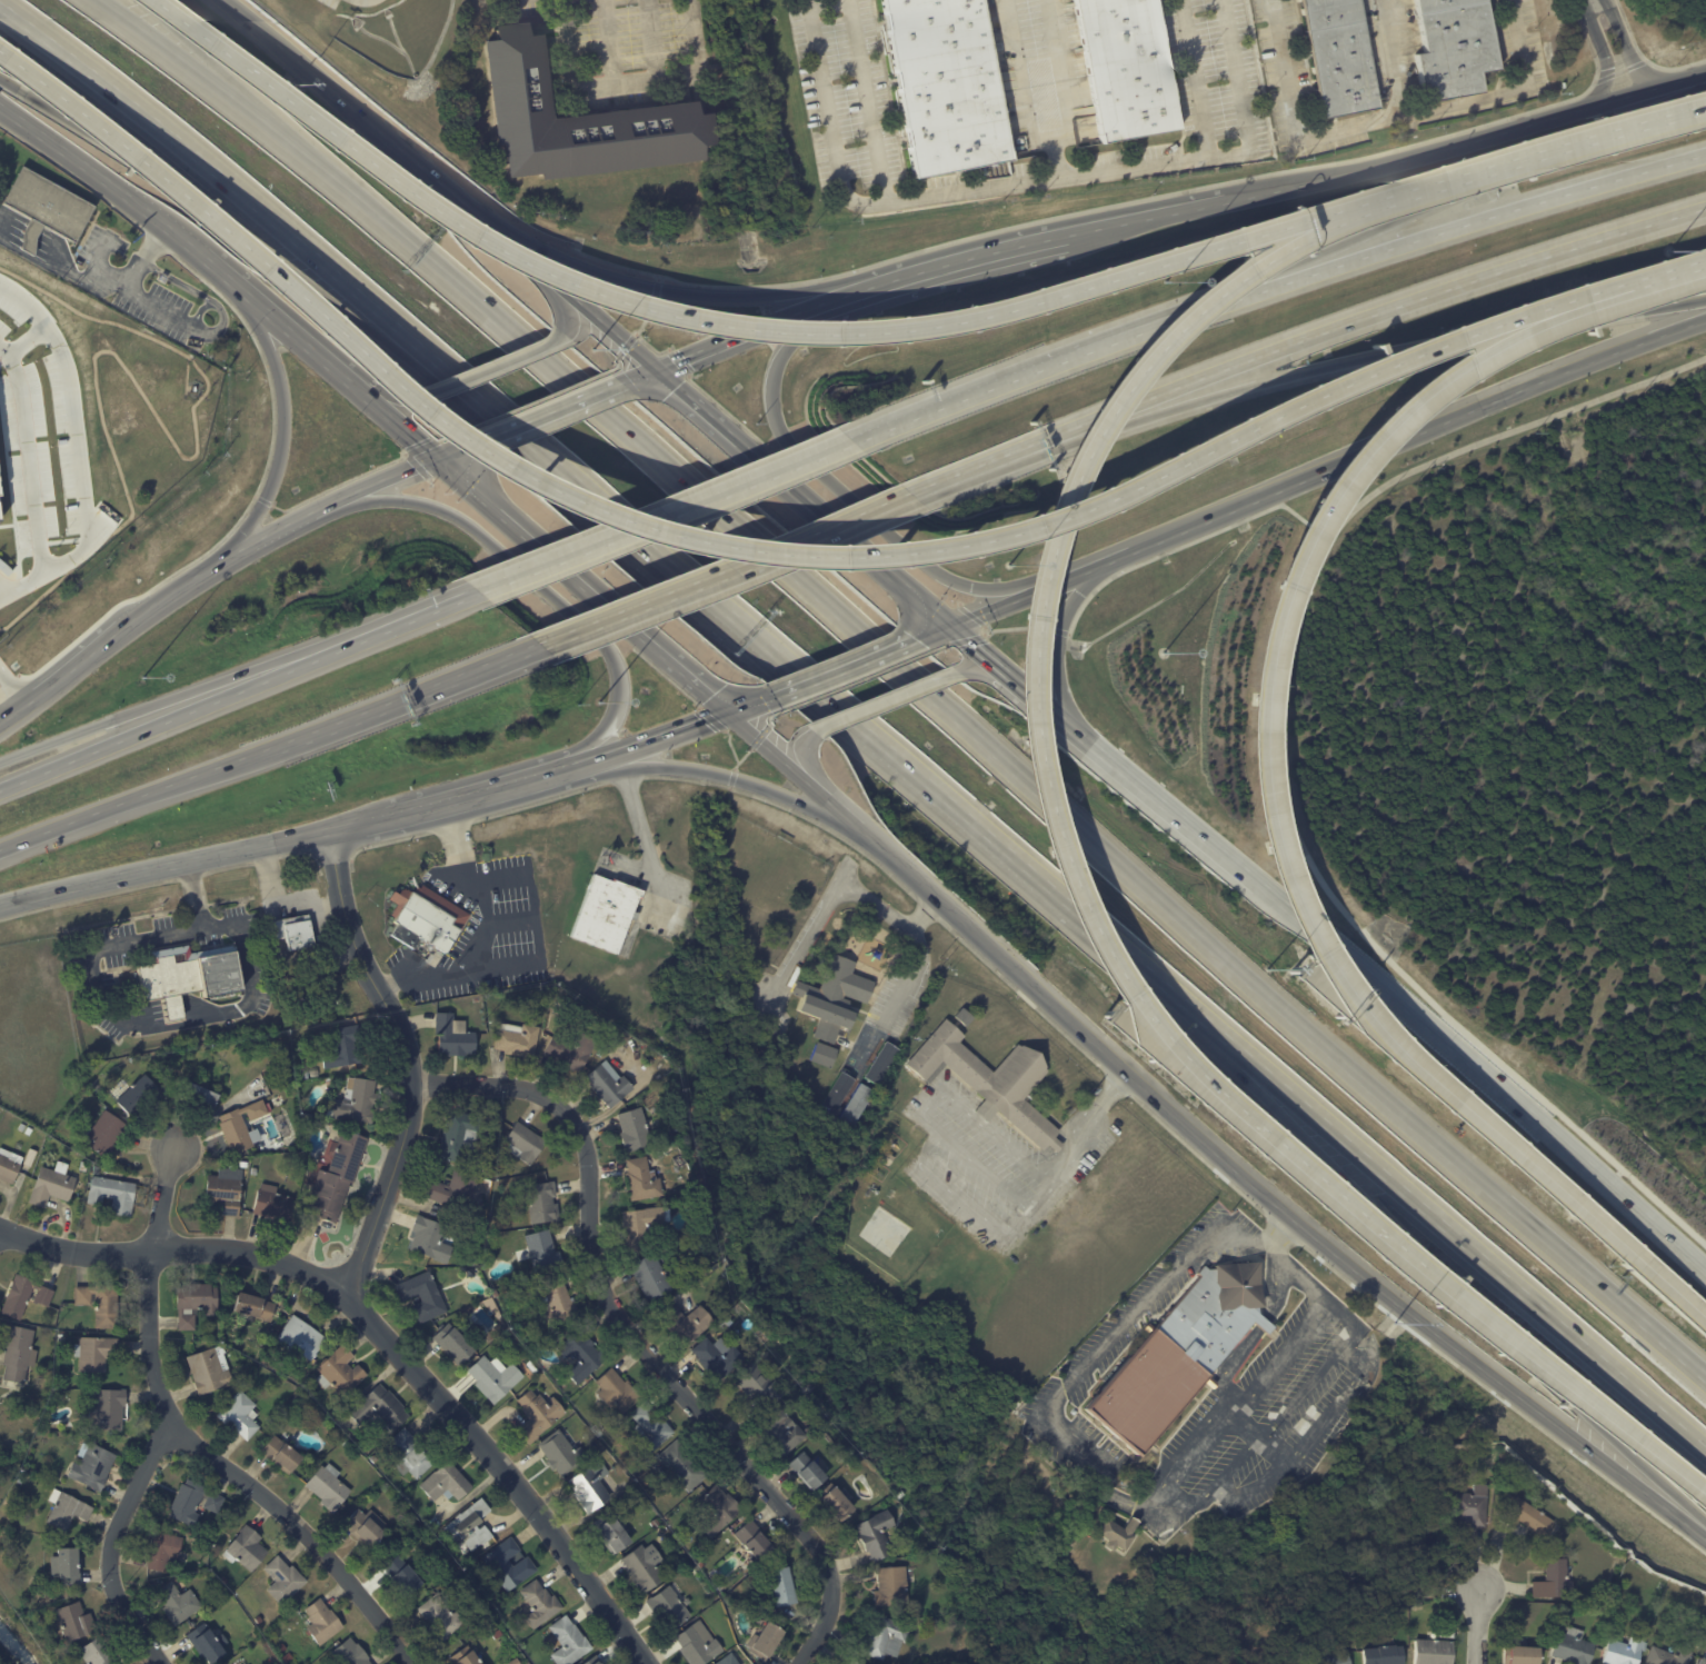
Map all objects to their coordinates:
road: (822, 3)
road: (249, 20)
road: (654, 37)
road: (1610, 48)
building: (1455, 49)
road: (2, 57)
road: (204, 57)
road: (1394, 57)
building: (1341, 58)
road: (174, 60)
road: (567, 60)
building: (1126, 68)
road: (649, 74)
road: (1022, 77)
building: (946, 86)
road: (1064, 90)
road: (1241, 94)
road: (867, 100)
building: (580, 117)
road: (1388, 117)
road: (1467, 145)
road: (1574, 147)
road: (417, 162)
road: (103, 179)
road: (1009, 186)
road: (1458, 193)
building: (48, 206)
road: (1146, 215)
road: (215, 221)
road: (1458, 227)
road: (7, 231)
road: (1616, 237)
building: (28, 239)
road: (979, 257)
road: (335, 271)
road: (1645, 282)
road: (127, 285)
road: (858, 291)
road: (689, 293)
road: (30, 296)
road: (149, 309)
road: (568, 309)
road: (273, 318)
road: (498, 320)
road: (610, 326)
road: (757, 329)
road: (26, 339)
road: (724, 341)
road: (1271, 352)
road: (1359, 360)
road: (495, 365)
traffic signals: (660, 367)
road: (1032, 372)
road: (1533, 388)
road: (1368, 389)
road: (382, 395)
road: (709, 410)
road: (546, 412)
road: (390, 418)
road: (429, 419)
road: (282, 424)
road: (453, 449)
road: (28, 457)
traffic signals: (437, 457)
building: (159, 465)
road: (964, 471)
road: (788, 479)
road: (378, 482)
road: (79, 485)
road: (844, 492)
road: (665, 515)
road: (1056, 516)
road: (285, 526)
road: (1154, 539)
road: (540, 546)
road: (864, 548)
road: (1143, 561)
road: (722, 568)
road: (189, 580)
road: (537, 581)
road: (3, 592)
road: (929, 608)
road: (390, 626)
traffic signals: (949, 626)
road: (931, 632)
road: (1059, 637)
road: (986, 656)
road: (74, 667)
road: (844, 667)
road: (686, 674)
road: (990, 675)
road: (2, 681)
road: (1030, 696)
road: (885, 701)
road: (9, 703)
road: (751, 704)
road: (150, 707)
road: (1047, 708)
traffic signals: (729, 713)
road: (9, 718)
road: (151, 725)
road: (645, 741)
road: (269, 748)
road: (1285, 760)
road: (782, 761)
road: (914, 769)
road: (812, 771)
road: (700, 773)
road: (1261, 779)
road: (1143, 788)
road: (476, 795)
road: (359, 824)
road: (851, 824)
road: (645, 847)
road: (163, 866)
road: (1246, 875)
road: (838, 891)
road: (193, 894)
building: (607, 914)
building: (427, 918)
road: (535, 919)
road: (511, 921)
building: (295, 931)
parking lot: (480, 933)
road: (490, 936)
road: (1221, 949)
road: (912, 974)
building: (187, 976)
building: (539, 999)
building: (831, 1003)
building: (455, 1036)
building: (518, 1040)
building: (606, 1047)
building: (342, 1048)
building: (571, 1052)
road: (407, 1059)
building: (880, 1063)
building: (316, 1074)
building: (306, 1075)
building: (992, 1080)
road: (1494, 1082)
building: (609, 1085)
building: (99, 1093)
building: (836, 1093)
building: (142, 1097)
building: (196, 1099)
building: (355, 1102)
building: (854, 1105)
building: (22, 1127)
building: (241, 1127)
building: (635, 1130)
building: (28, 1132)
building: (103, 1134)
building: (459, 1134)
road: (1577, 1137)
building: (525, 1143)
building: (30, 1158)
building: (245, 1165)
building: (9, 1166)
building: (84, 1166)
building: (96, 1170)
building: (498, 1170)
building: (255, 1172)
building: (485, 1172)
building: (337, 1177)
building: (644, 1180)
road: (1047, 1183)
building: (52, 1186)
building: (453, 1188)
building: (223, 1189)
building: (112, 1195)
building: (542, 1200)
road: (163, 1202)
road: (1274, 1202)
building: (275, 1206)
road: (1436, 1218)
building: (479, 1219)
building: (642, 1228)
building: (432, 1238)
building: (545, 1252)
building: (714, 1256)
road: (1430, 1261)
building: (469, 1271)
building: (728, 1275)
building: (651, 1278)
road: (1668, 1291)
building: (496, 1293)
building: (24, 1295)
building: (423, 1295)
building: (558, 1302)
building: (100, 1303)
building: (196, 1303)
building: (255, 1305)
building: (492, 1314)
building: (688, 1325)
building: (60, 1335)
building: (302, 1336)
road: (386, 1337)
road: (635, 1338)
building: (453, 1341)
building: (775, 1345)
building: (18, 1352)
building: (96, 1352)
building: (582, 1354)
building: (1179, 1354)
building: (717, 1357)
building: (210, 1369)
building: (340, 1371)
building: (496, 1377)
road: (1562, 1378)
building: (760, 1384)
building: (618, 1391)
building: (300, 1397)
building: (108, 1408)
building: (379, 1408)
building: (539, 1414)
building: (240, 1415)
building: (651, 1426)
building: (597, 1429)
building: (781, 1431)
building: (1191, 1431)
building: (345, 1443)
building: (281, 1453)
building: (562, 1453)
building: (409, 1454)
building: (847, 1454)
building: (375, 1458)
building: (855, 1463)
building: (90, 1464)
building: (682, 1465)
road: (1101, 1467)
building: (809, 1469)
road: (235, 1476)
building: (21, 1477)
building: (446, 1483)
building: (329, 1486)
building: (591, 1486)
building: (637, 1492)
building: (901, 1492)
building: (190, 1501)
building: (836, 1502)
building: (1476, 1506)
building: (67, 1509)
building: (718, 1509)
building: (407, 1514)
building: (1528, 1517)
building: (656, 1523)
building: (471, 1525)
building: (366, 1527)
building: (611, 1532)
building: (877, 1534)
building: (1119, 1534)
building: (226, 1538)
building: (707, 1541)
building: (756, 1541)
road: (111, 1546)
building: (246, 1548)
building: (163, 1550)
building: (1146, 1562)
building: (509, 1564)
building: (701, 1564)
building: (67, 1565)
building: (452, 1570)
building: (644, 1570)
building: (405, 1576)
building: (1423, 1578)
building: (225, 1580)
building: (283, 1580)
building: (1556, 1581)
building: (178, 1583)
building: (782, 1586)
building: (892, 1587)
building: (178, 1602)
building: (540, 1603)
building: (670, 1606)
building: (1420, 1606)
building: (483, 1607)
building: (767, 1607)
building: (441, 1617)
building: (259, 1620)
building: (74, 1622)
building: (322, 1622)
building: (493, 1624)
road: (1478, 1627)
building: (1646, 1628)
building: (498, 1634)
building: (885, 1635)
building: (766, 1641)
building: (569, 1642)
building: (208, 1643)
building: (699, 1644)
building: (1575, 1646)
building: (282, 1648)
building: (1624, 1650)
building: (99, 1652)
building: (1434, 1652)
building: (351, 1653)
building: (1385, 1655)
building: (1522, 1655)
building: (466, 1656)
building: (1670, 1656)
building: (288, 1657)
building: (1331, 1657)
building: (734, 1658)
building: (1704, 1660)
building: (596, 1661)
building: (516, 1662)
building: (855, 1662)

